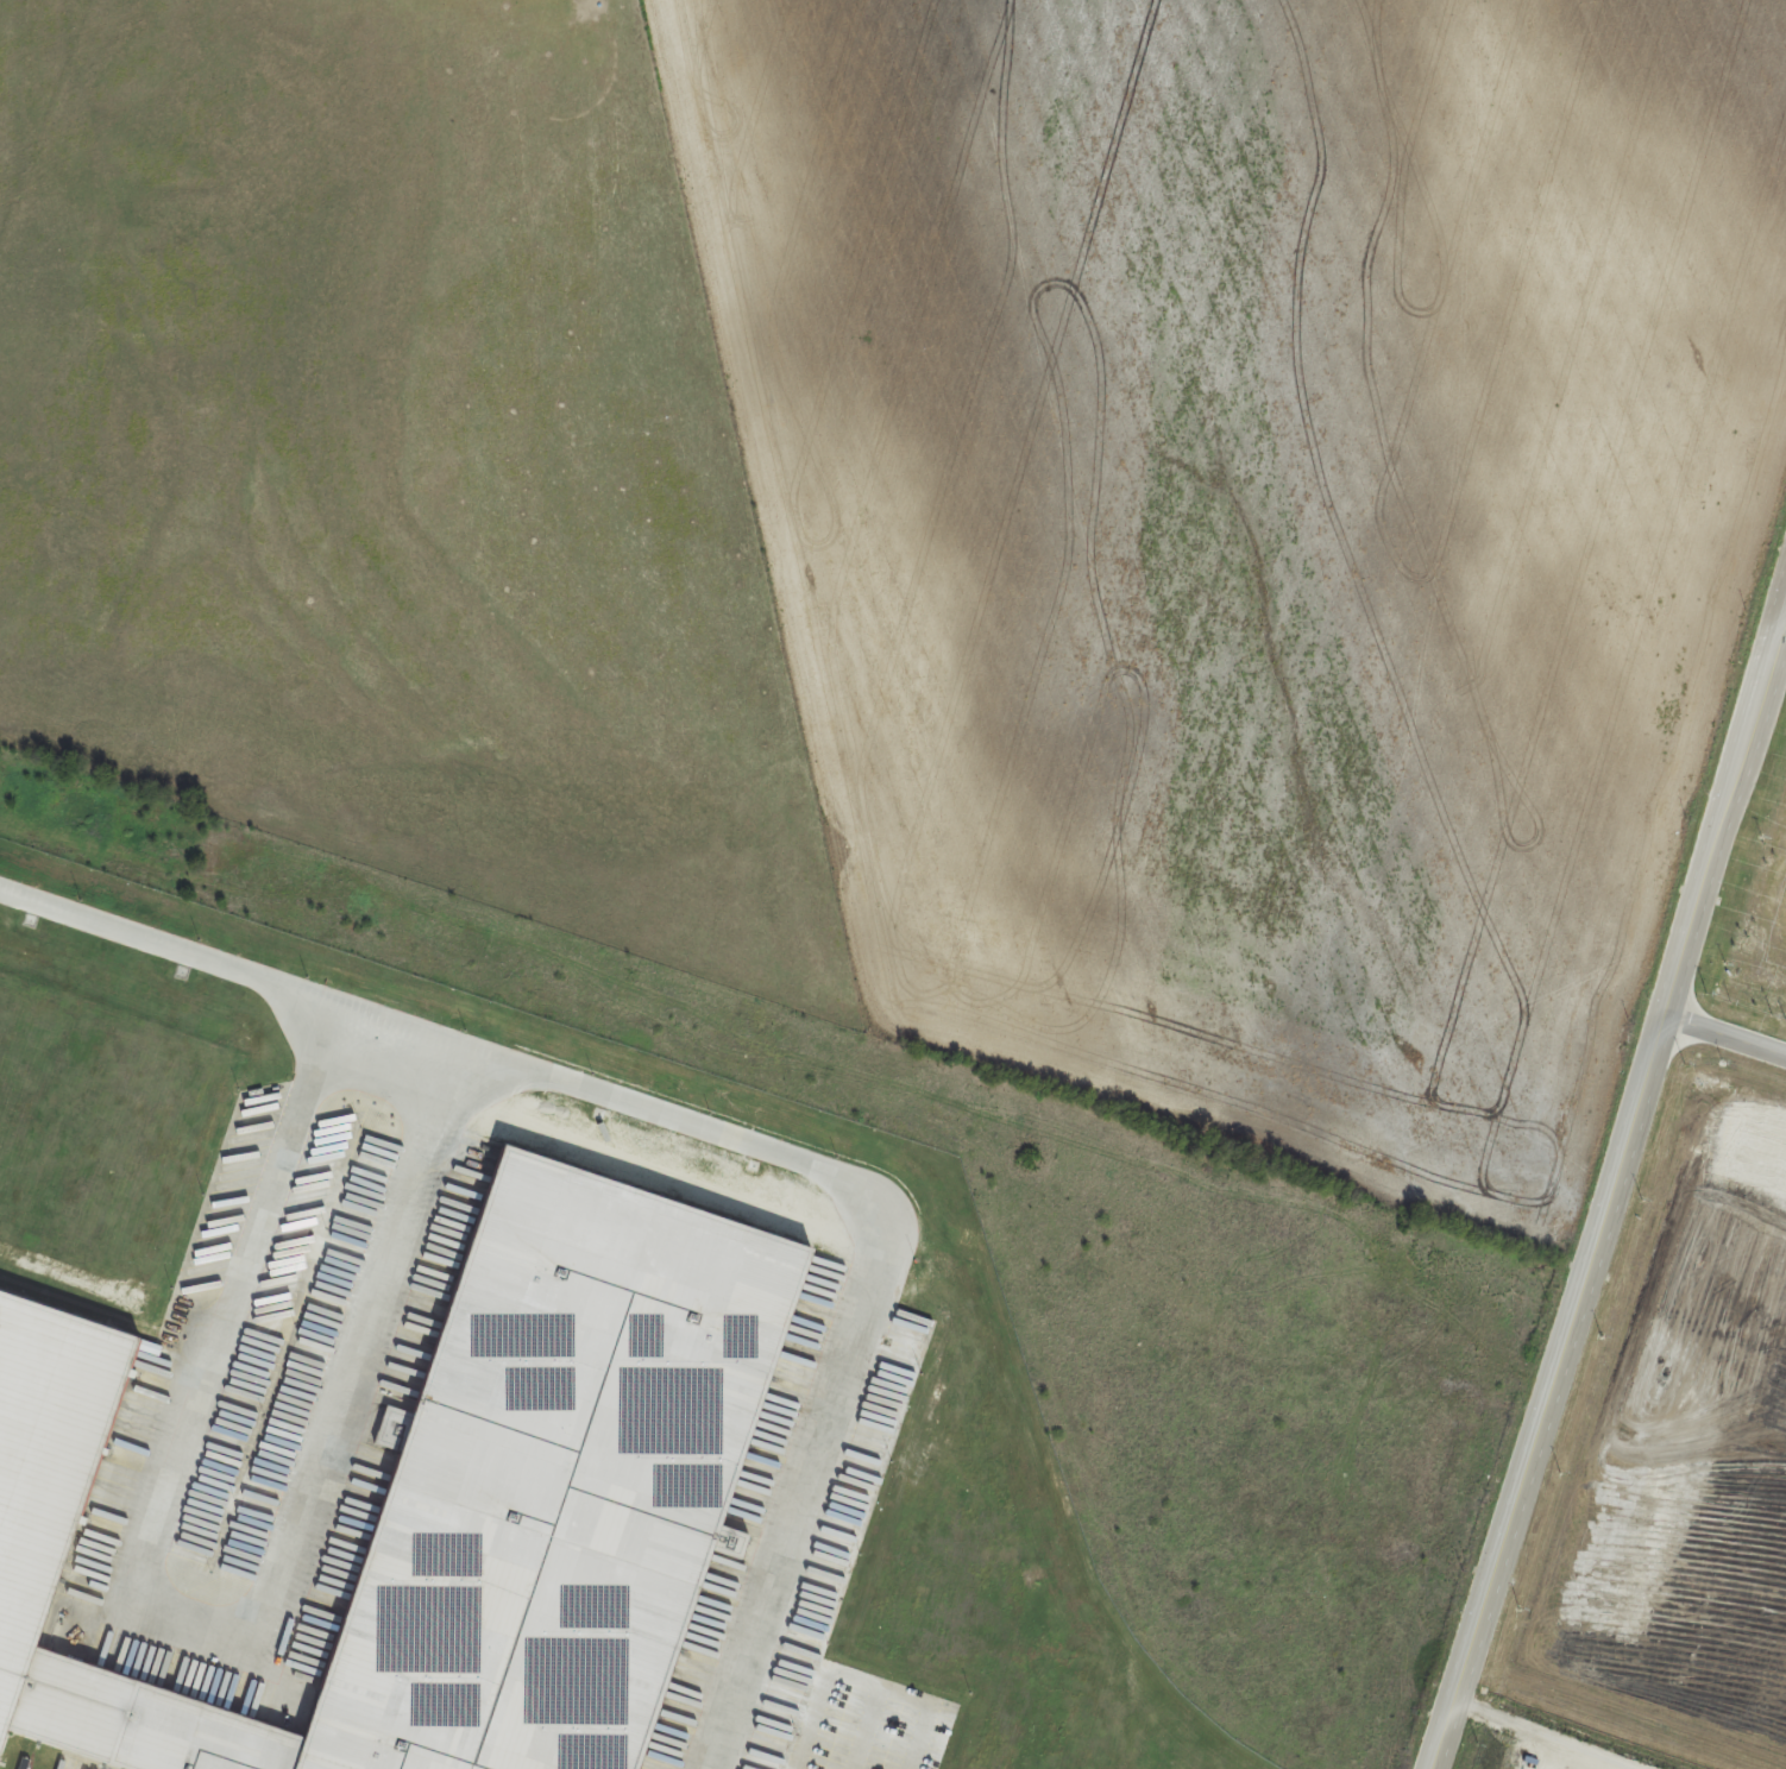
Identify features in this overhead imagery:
road: (1723, 1035)
building: (1731, 1058)
building: (94, 1122)
road: (710, 1141)
road: (1609, 1183)
building: (453, 1499)
road: (199, 1612)

